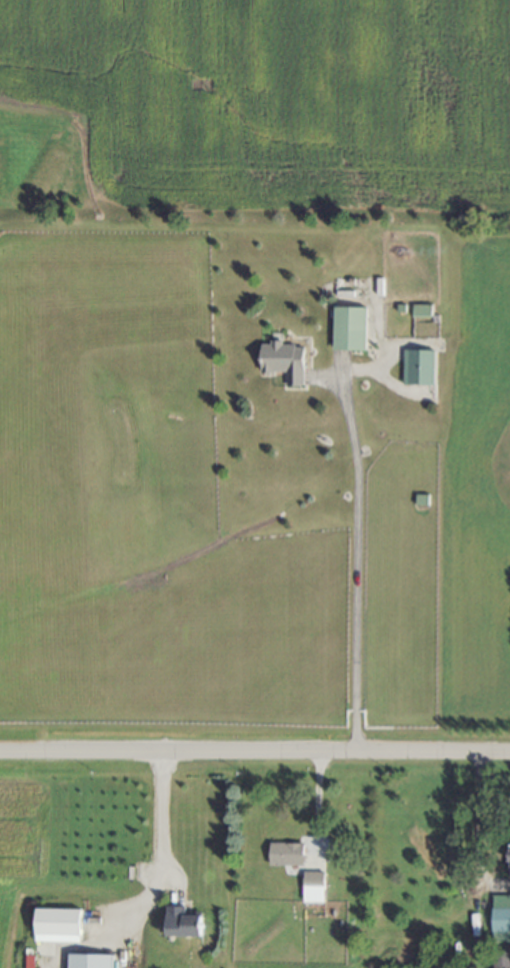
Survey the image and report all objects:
crop: (273, 101)
building: (422, 310)
building: (349, 329)
building: (284, 361)
building: (419, 367)
road: (356, 557)
road: (254, 755)
road: (160, 817)
crop: (25, 827)
road: (476, 843)
building: (509, 843)
building: (287, 854)
building: (313, 887)
building: (501, 919)
building: (183, 922)
building: (58, 926)
building: (501, 960)
building: (91, 961)
crop: (315, 965)

